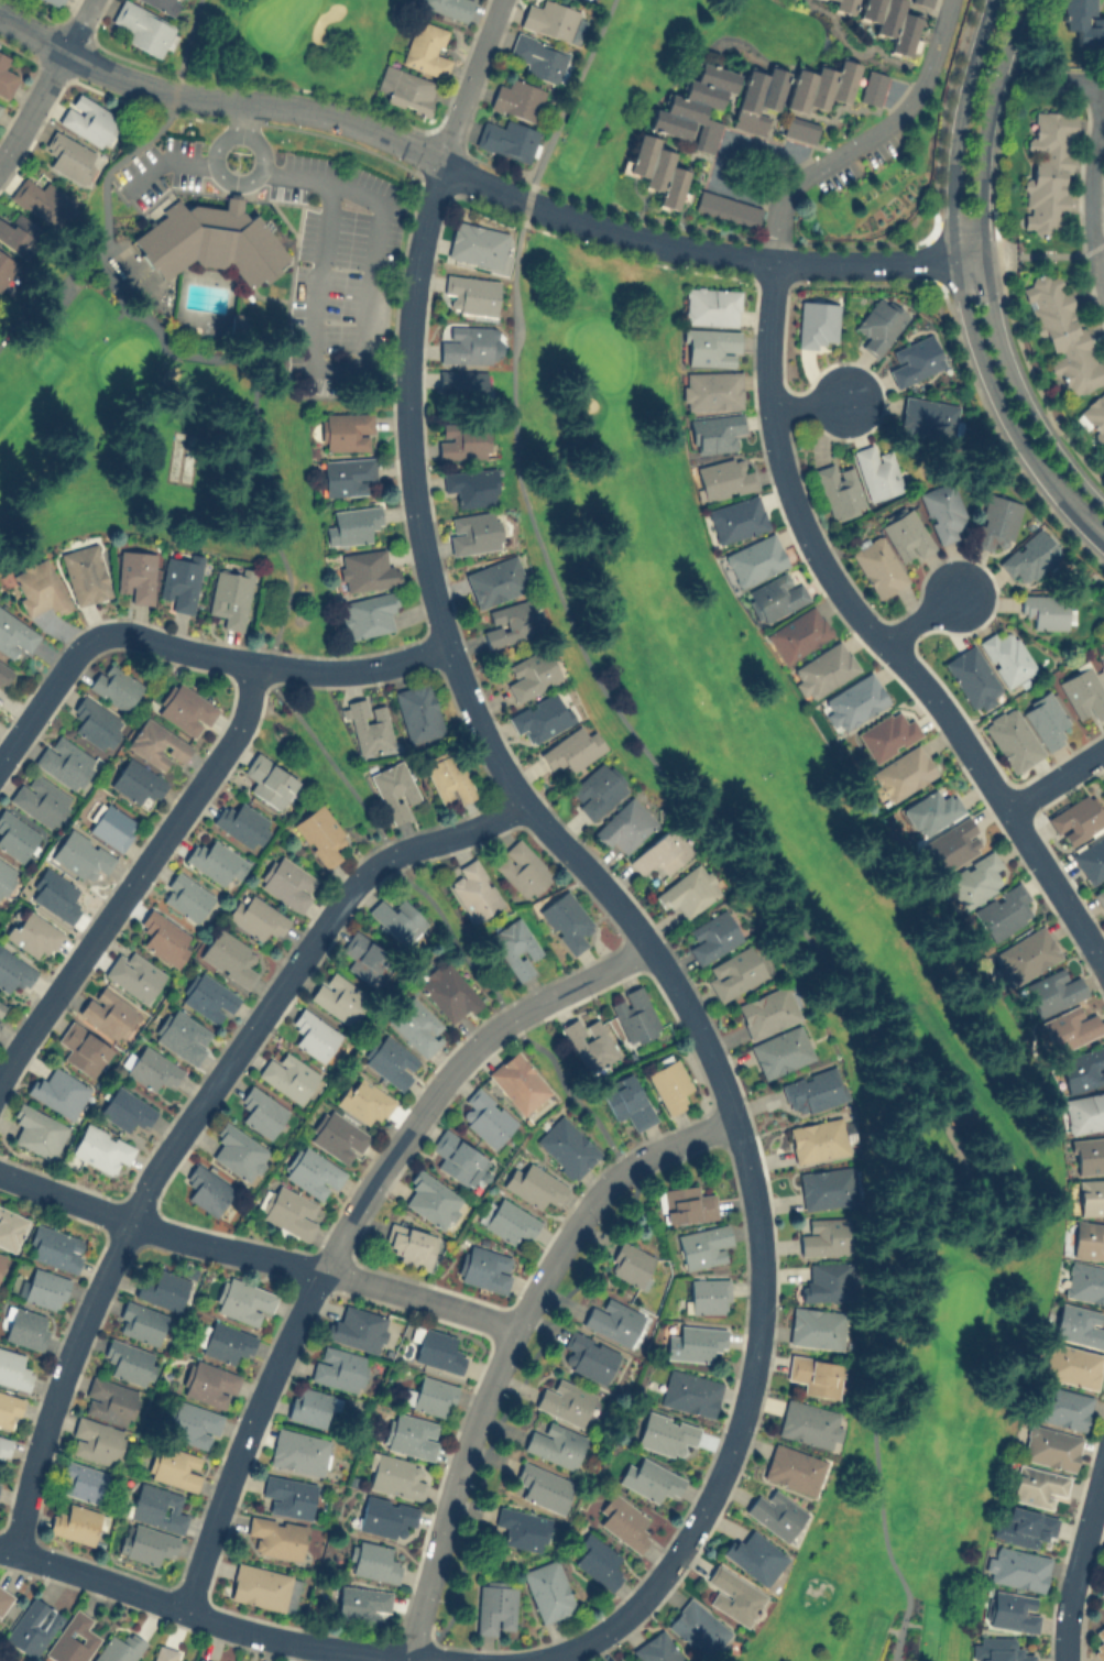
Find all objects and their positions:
building: (56, 1)
building: (921, 2)
building: (164, 4)
building: (844, 4)
building: (448, 7)
building: (553, 19)
building: (892, 22)
building: (1083, 23)
building: (143, 26)
park: (291, 42)
building: (425, 48)
building: (538, 56)
building: (6, 76)
road: (48, 81)
building: (822, 85)
park: (619, 86)
building: (872, 86)
building: (406, 88)
building: (518, 98)
building: (758, 98)
building: (696, 106)
road: (243, 114)
building: (88, 119)
building: (800, 128)
road: (241, 131)
road: (864, 138)
building: (507, 139)
road: (724, 146)
building: (70, 157)
road: (163, 162)
parking lot: (161, 167)
building: (657, 168)
building: (1048, 171)
road: (103, 179)
road: (482, 181)
road: (1089, 188)
building: (42, 200)
building: (728, 207)
building: (20, 233)
building: (210, 239)
building: (477, 243)
road: (1100, 262)
building: (6, 265)
road: (986, 269)
parking lot: (339, 270)
road: (961, 289)
building: (471, 293)
building: (710, 305)
building: (816, 323)
building: (879, 324)
building: (1062, 331)
road: (362, 332)
building: (470, 343)
building: (709, 346)
park: (203, 349)
building: (915, 360)
building: (461, 383)
building: (710, 390)
road: (807, 405)
building: (928, 417)
building: (1094, 417)
building: (346, 430)
building: (713, 431)
building: (462, 439)
building: (877, 471)
building: (347, 474)
building: (724, 478)
building: (470, 485)
road: (264, 490)
building: (839, 490)
building: (944, 511)
building: (736, 518)
building: (996, 521)
building: (354, 524)
building: (473, 532)
building: (907, 535)
building: (1030, 556)
building: (755, 558)
building: (877, 565)
building: (365, 570)
building: (85, 573)
building: (135, 575)
building: (495, 580)
building: (181, 581)
building: (39, 586)
building: (230, 597)
building: (775, 597)
building: (1047, 610)
building: (368, 613)
road: (920, 619)
building: (510, 623)
building: (797, 633)
building: (15, 634)
road: (877, 638)
building: (1007, 656)
road: (276, 666)
building: (824, 669)
building: (4, 673)
building: (532, 674)
building: (971, 677)
building: (114, 686)
road: (47, 690)
building: (1083, 691)
building: (853, 701)
building: (185, 709)
building: (418, 711)
building: (539, 717)
building: (1045, 719)
building: (96, 722)
building: (368, 724)
building: (888, 734)
building: (1012, 739)
building: (157, 743)
building: (571, 750)
building: (65, 761)
building: (904, 773)
building: (448, 778)
road: (1054, 779)
building: (269, 780)
building: (136, 783)
building: (393, 788)
building: (598, 788)
building: (40, 799)
building: (931, 810)
building: (1076, 818)
building: (242, 822)
building: (624, 826)
building: (112, 827)
building: (320, 834)
building: (15, 835)
building: (953, 843)
building: (660, 853)
building: (81, 854)
road: (729, 857)
building: (1090, 859)
building: (216, 860)
building: (522, 868)
road: (591, 873)
building: (7, 875)
road: (136, 875)
building: (974, 879)
building: (287, 882)
building: (474, 890)
building: (689, 890)
building: (54, 894)
building: (186, 896)
building: (1100, 896)
building: (1003, 911)
building: (256, 917)
building: (397, 918)
building: (566, 920)
building: (32, 932)
building: (712, 936)
building: (163, 937)
building: (515, 947)
building: (1029, 952)
building: (229, 955)
building: (365, 957)
park: (802, 959)
building: (13, 971)
building: (734, 972)
building: (134, 974)
building: (448, 991)
building: (1052, 991)
building: (338, 995)
building: (209, 997)
building: (2, 1007)
building: (767, 1010)
building: (108, 1012)
building: (633, 1014)
building: (416, 1025)
building: (1068, 1027)
building: (314, 1034)
building: (183, 1035)
building: (589, 1042)
building: (84, 1048)
building: (780, 1051)
building: (390, 1060)
building: (152, 1068)
building: (1082, 1069)
building: (287, 1075)
building: (517, 1081)
building: (668, 1084)
building: (812, 1090)
building: (59, 1091)
building: (626, 1100)
building: (364, 1101)
building: (125, 1108)
building: (1084, 1111)
building: (261, 1112)
road: (193, 1113)
building: (485, 1117)
building: (39, 1130)
building: (338, 1136)
building: (818, 1139)
building: (566, 1146)
building: (101, 1148)
building: (239, 1151)
building: (1087, 1155)
building: (456, 1156)
building: (313, 1171)
building: (535, 1184)
building: (828, 1187)
building: (207, 1189)
building: (431, 1199)
building: (685, 1203)
building: (292, 1212)
building: (507, 1220)
road: (348, 1221)
building: (11, 1227)
building: (824, 1235)
building: (1087, 1238)
building: (409, 1244)
building: (701, 1244)
building: (53, 1247)
road: (255, 1254)
building: (1, 1258)
building: (632, 1264)
building: (483, 1268)
building: (823, 1281)
building: (1084, 1281)
building: (43, 1287)
building: (163, 1289)
building: (707, 1296)
building: (242, 1299)
building: (612, 1320)
building: (140, 1322)
building: (1079, 1324)
building: (25, 1326)
building: (357, 1327)
building: (817, 1327)
building: (223, 1341)
building: (695, 1342)
road: (509, 1343)
building: (438, 1349)
building: (588, 1356)
building: (130, 1361)
building: (1071, 1364)
building: (339, 1367)
building: (13, 1368)
building: (816, 1375)
building: (209, 1384)
building: (690, 1392)
building: (431, 1396)
building: (110, 1401)
building: (566, 1401)
building: (310, 1405)
building: (1062, 1406)
building: (9, 1409)
building: (809, 1422)
building: (194, 1424)
building: (666, 1433)
building: (411, 1434)
building: (96, 1441)
building: (555, 1443)
building: (3, 1445)
building: (1051, 1446)
building: (299, 1451)
building: (175, 1466)
building: (793, 1468)
building: (395, 1475)
building: (651, 1478)
building: (83, 1480)
building: (1038, 1485)
building: (544, 1486)
building: (288, 1495)
building: (157, 1507)
building: (775, 1512)
building: (385, 1516)
building: (624, 1521)
building: (76, 1522)
building: (1027, 1526)
building: (522, 1528)
building: (276, 1537)
building: (145, 1543)
building: (753, 1555)
building: (372, 1560)
building: (598, 1561)
road: (1079, 1561)
building: (1016, 1566)
building: (264, 1587)
building: (548, 1591)
building: (1103, 1591)
building: (733, 1594)
building: (4, 1598)
building: (363, 1605)
building: (495, 1606)
building: (1013, 1610)
road: (201, 1613)
building: (33, 1626)
building: (698, 1628)
building: (73, 1638)
building: (1098, 1643)
building: (119, 1648)
building: (657, 1648)
building: (998, 1649)
building: (164, 1653)
park: (8, 1658)
road: (433, 1658)
building: (200, 1659)
building: (617, 1659)

